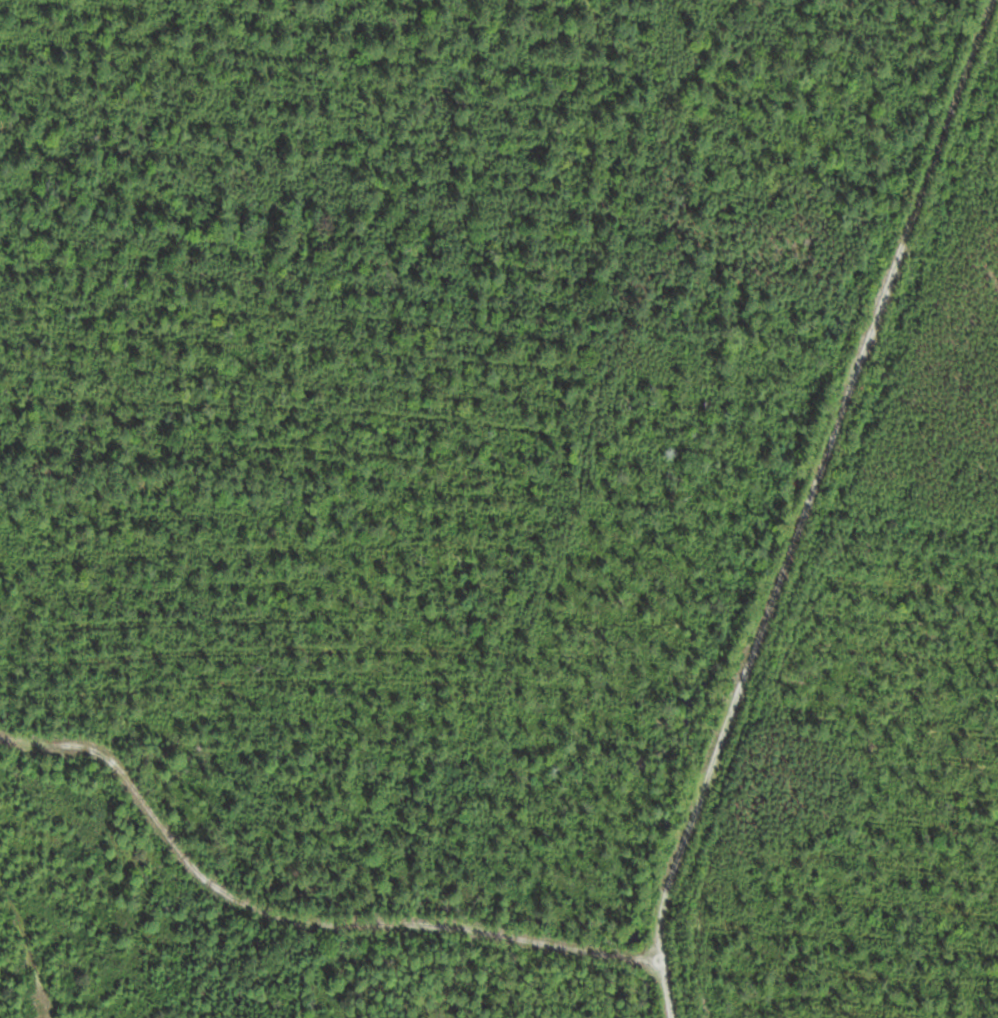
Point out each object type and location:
road: (806, 510)

